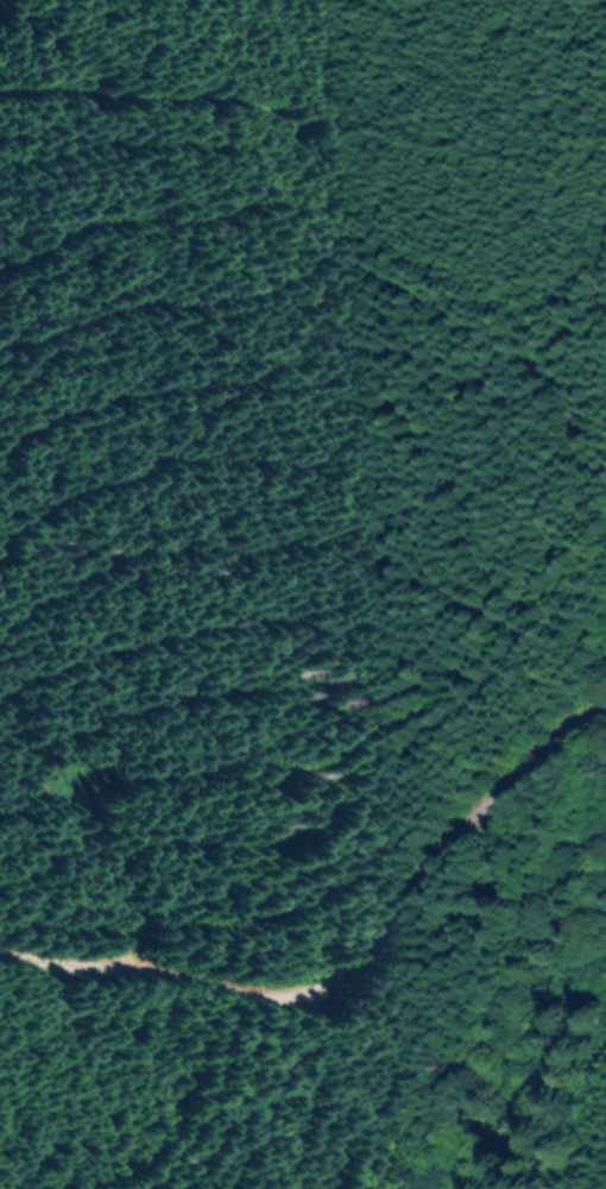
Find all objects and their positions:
road: (17, 63)
road: (313, 942)

